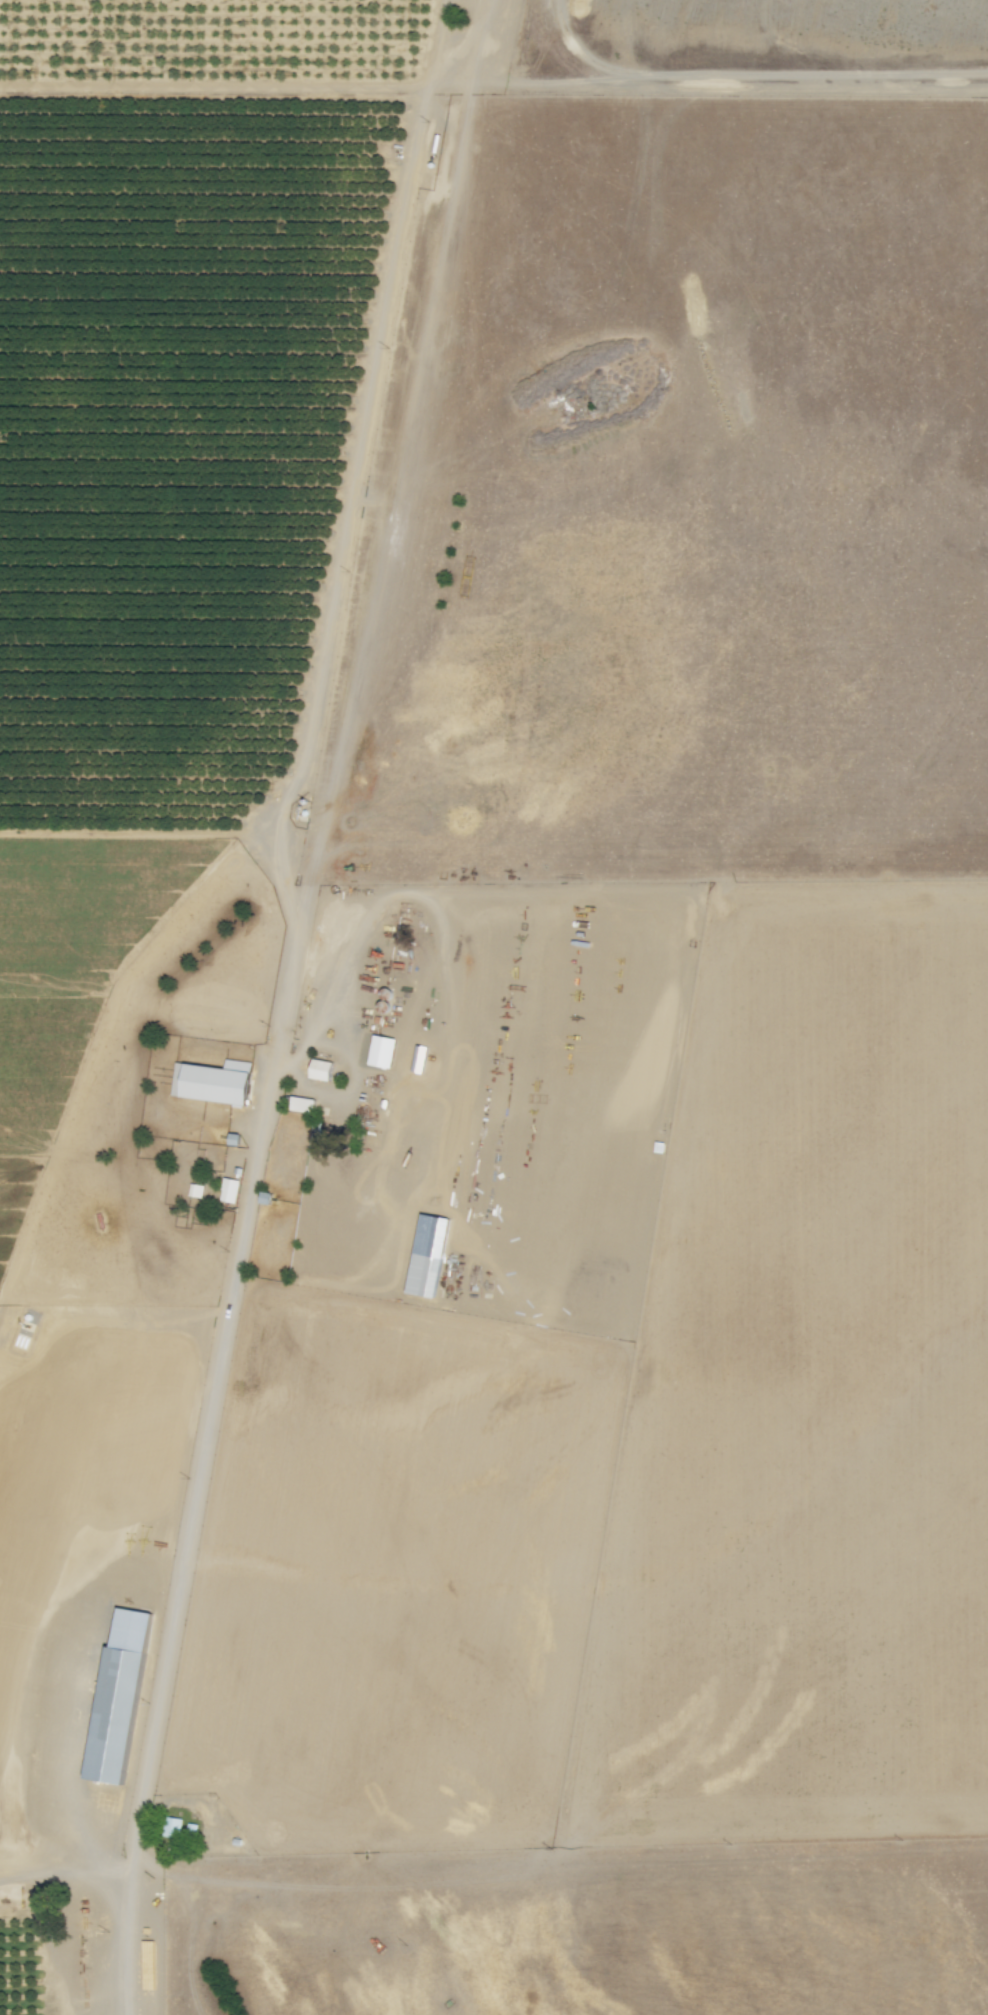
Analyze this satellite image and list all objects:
quarry: (752, 48)
road: (305, 773)
building: (381, 1051)
building: (322, 1069)
building: (213, 1082)
building: (302, 1104)
building: (195, 1190)
building: (229, 1190)
building: (425, 1274)
building: (119, 1696)
building: (173, 1828)

